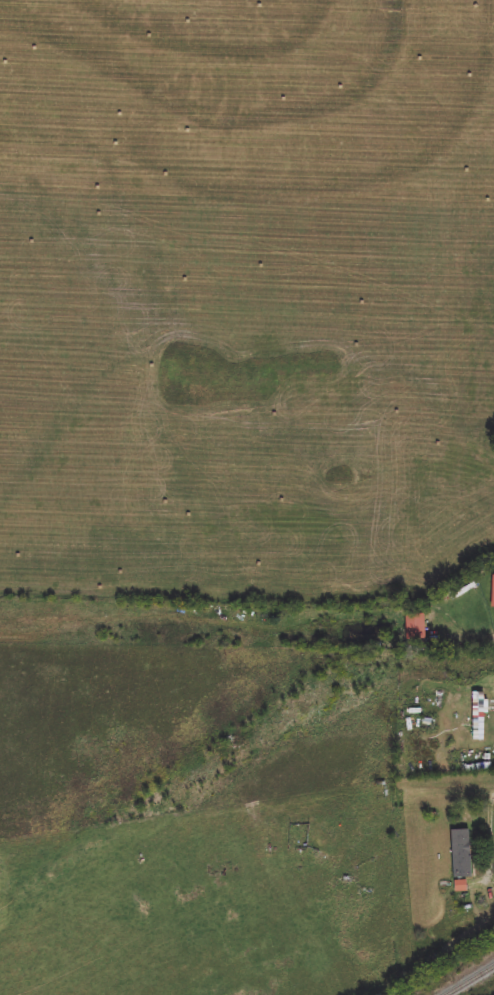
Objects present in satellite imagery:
building: (416, 627)
building: (479, 720)
building: (429, 724)
railway: (246, 735)
road: (492, 823)
building: (462, 854)
railway: (471, 981)

